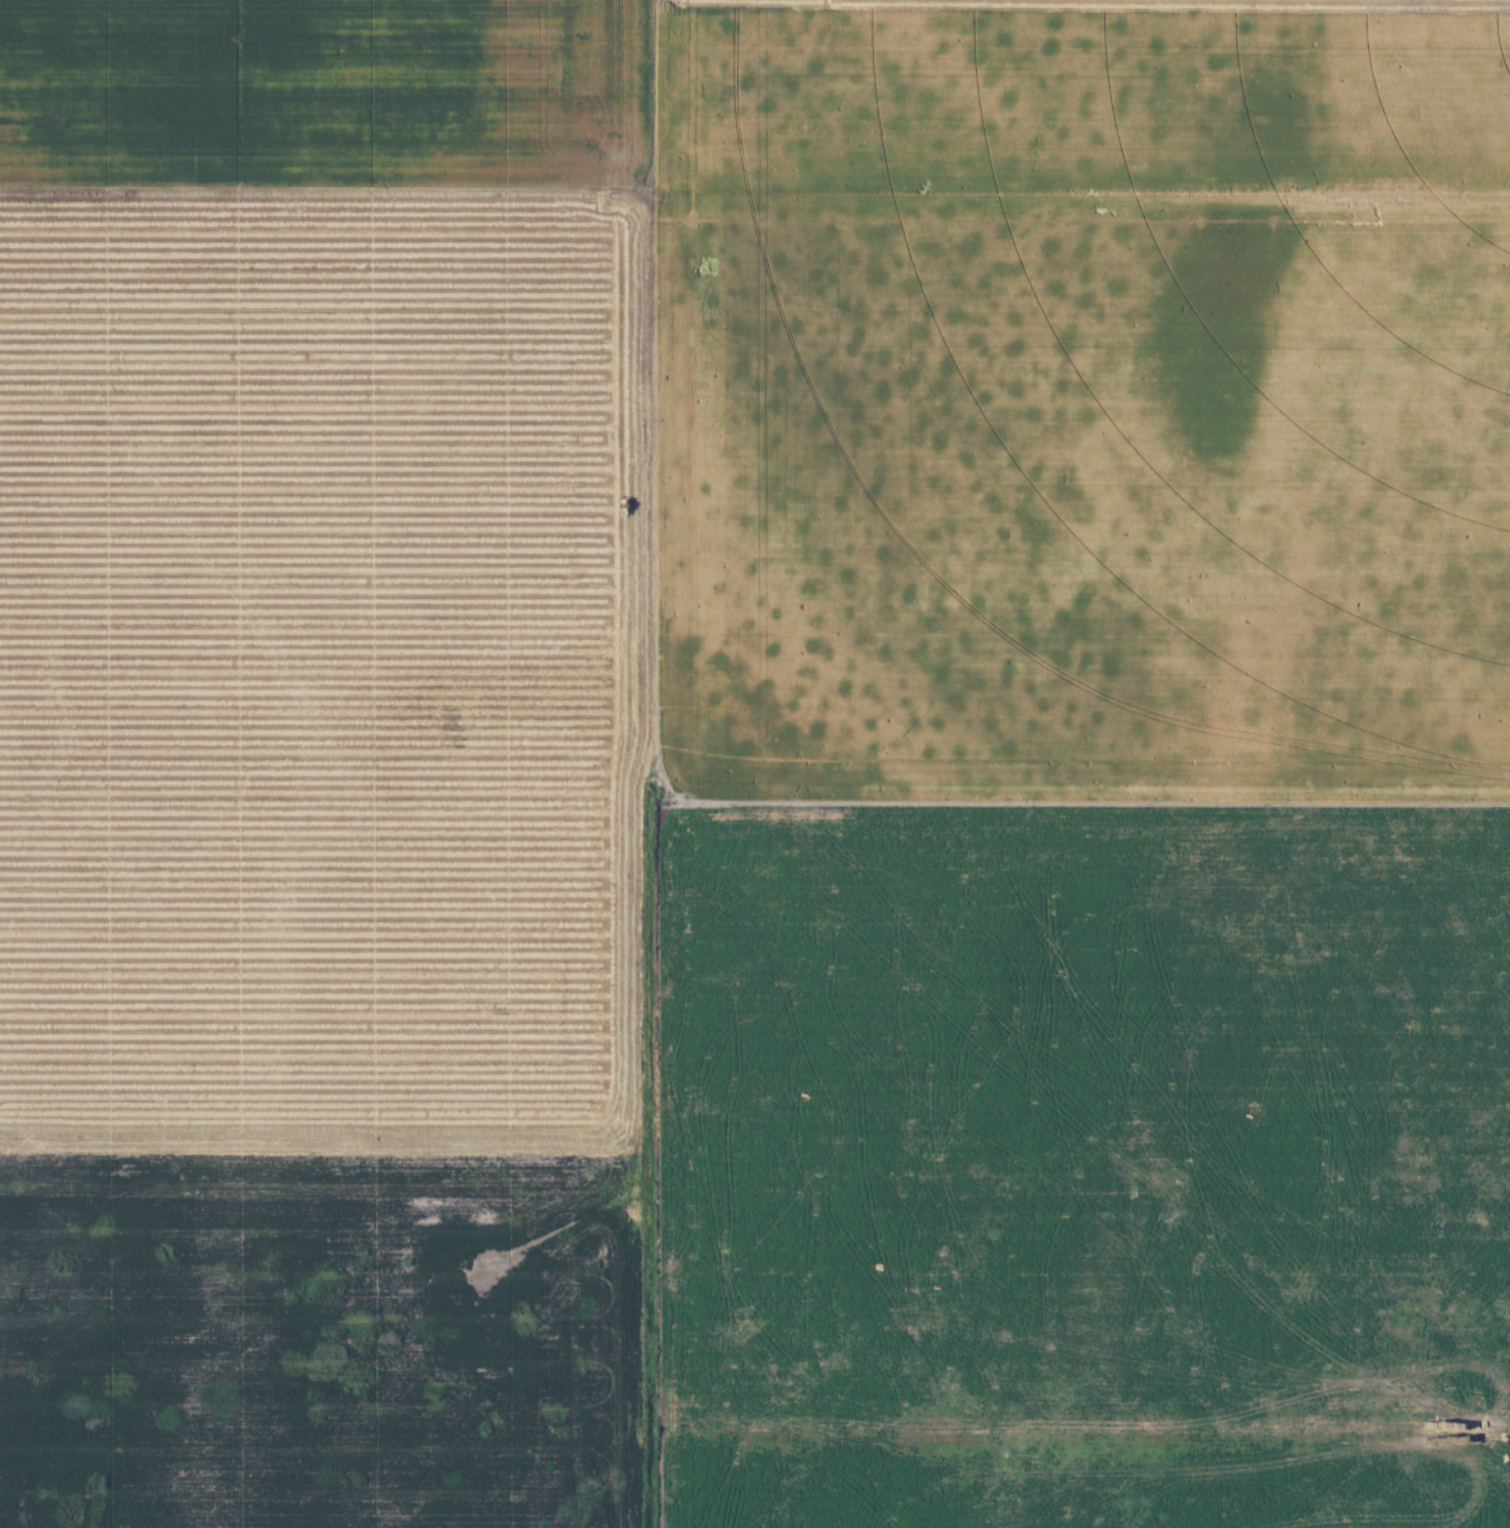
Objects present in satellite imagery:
building: (1465, 1441)

